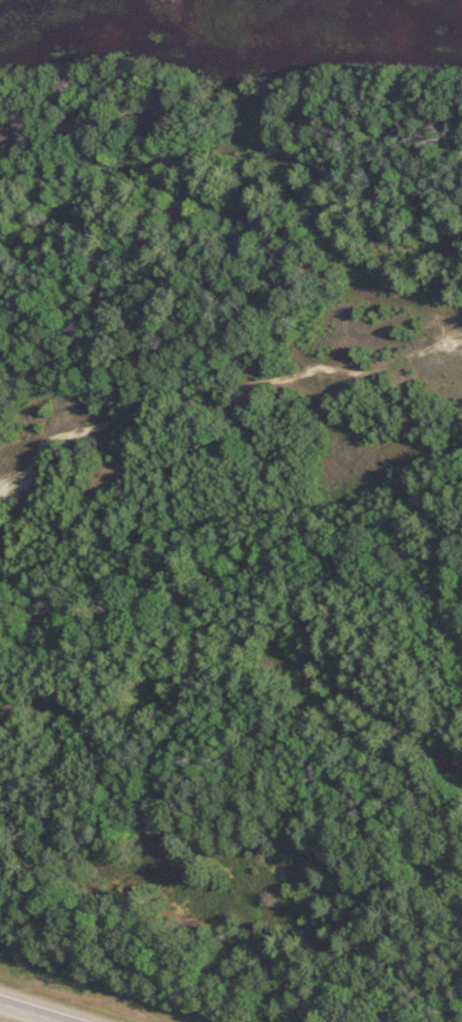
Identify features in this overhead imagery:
road: (218, 392)
road: (29, 1012)

